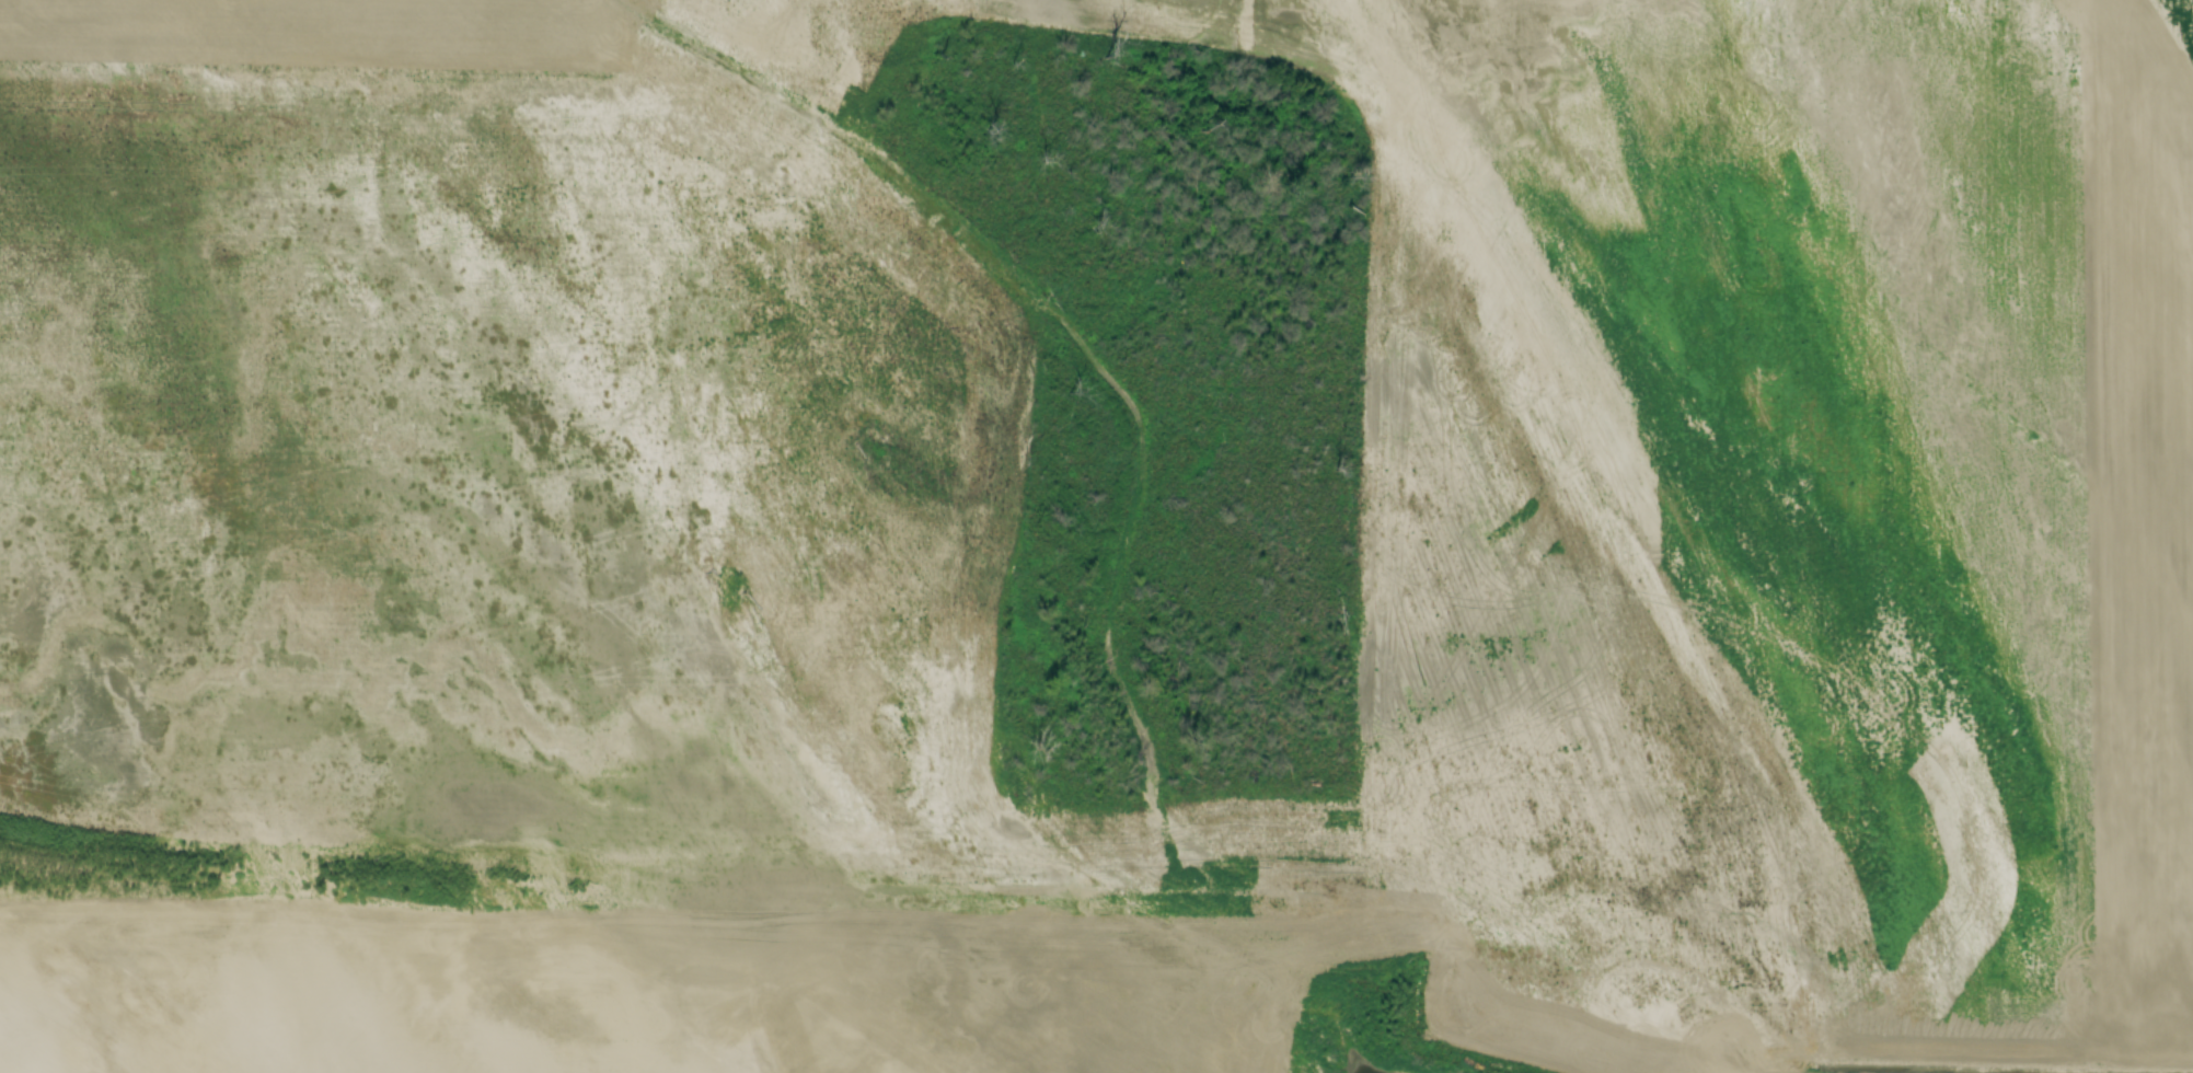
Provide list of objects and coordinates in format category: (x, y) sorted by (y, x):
road: (1161, 759)

